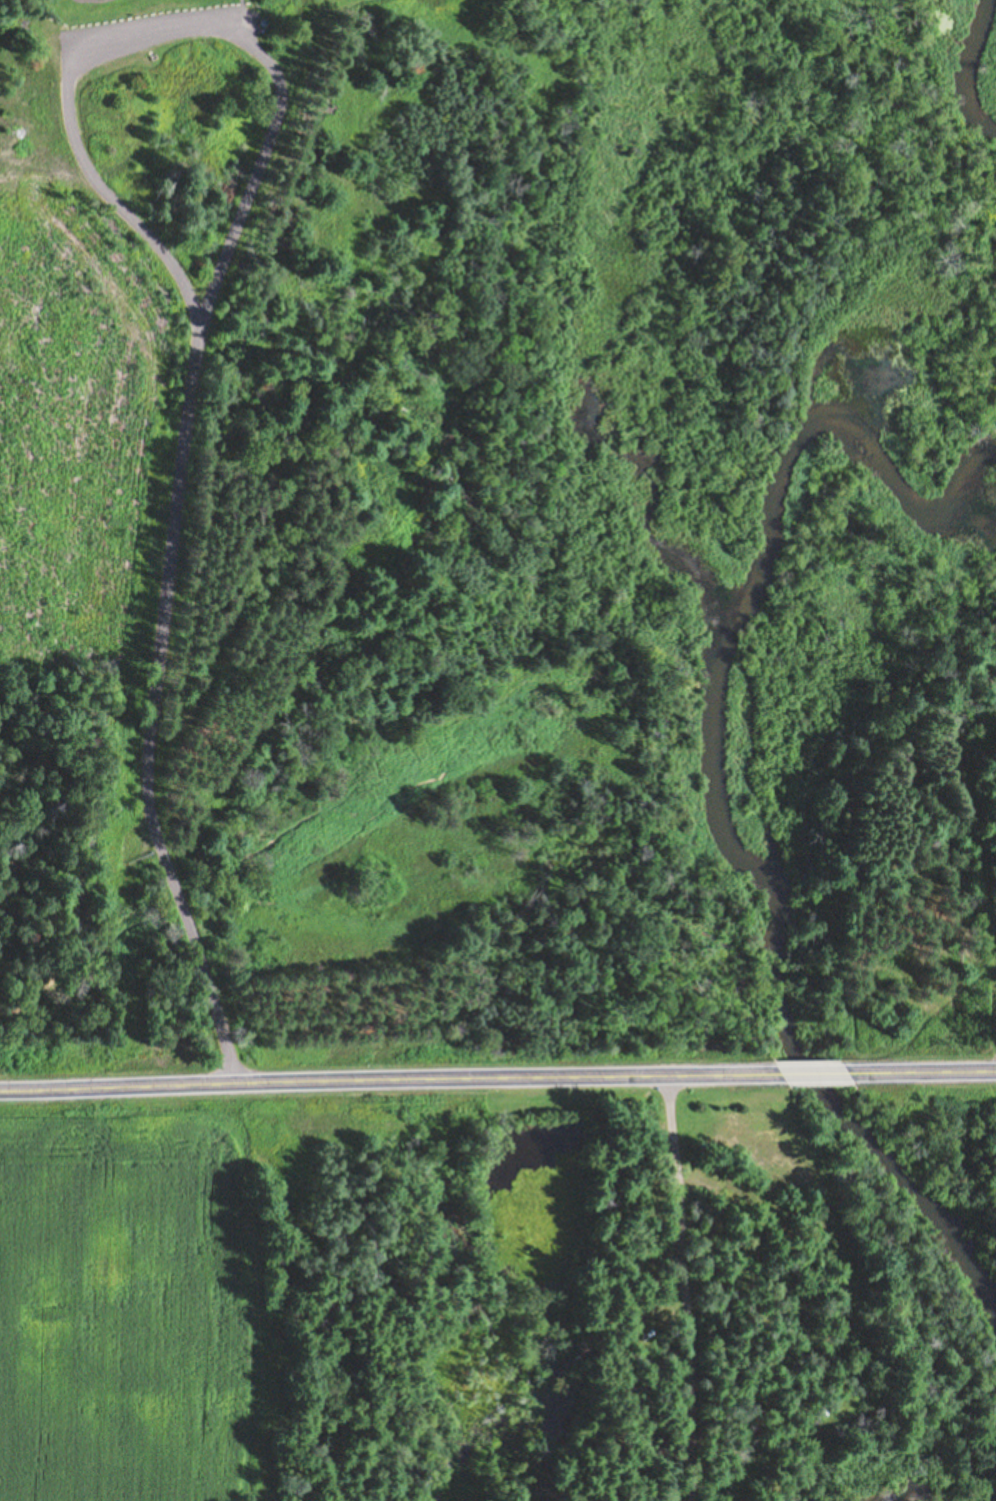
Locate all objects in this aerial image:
road: (265, 165)
road: (162, 725)
road: (814, 1072)
road: (920, 1072)
road: (391, 1074)

